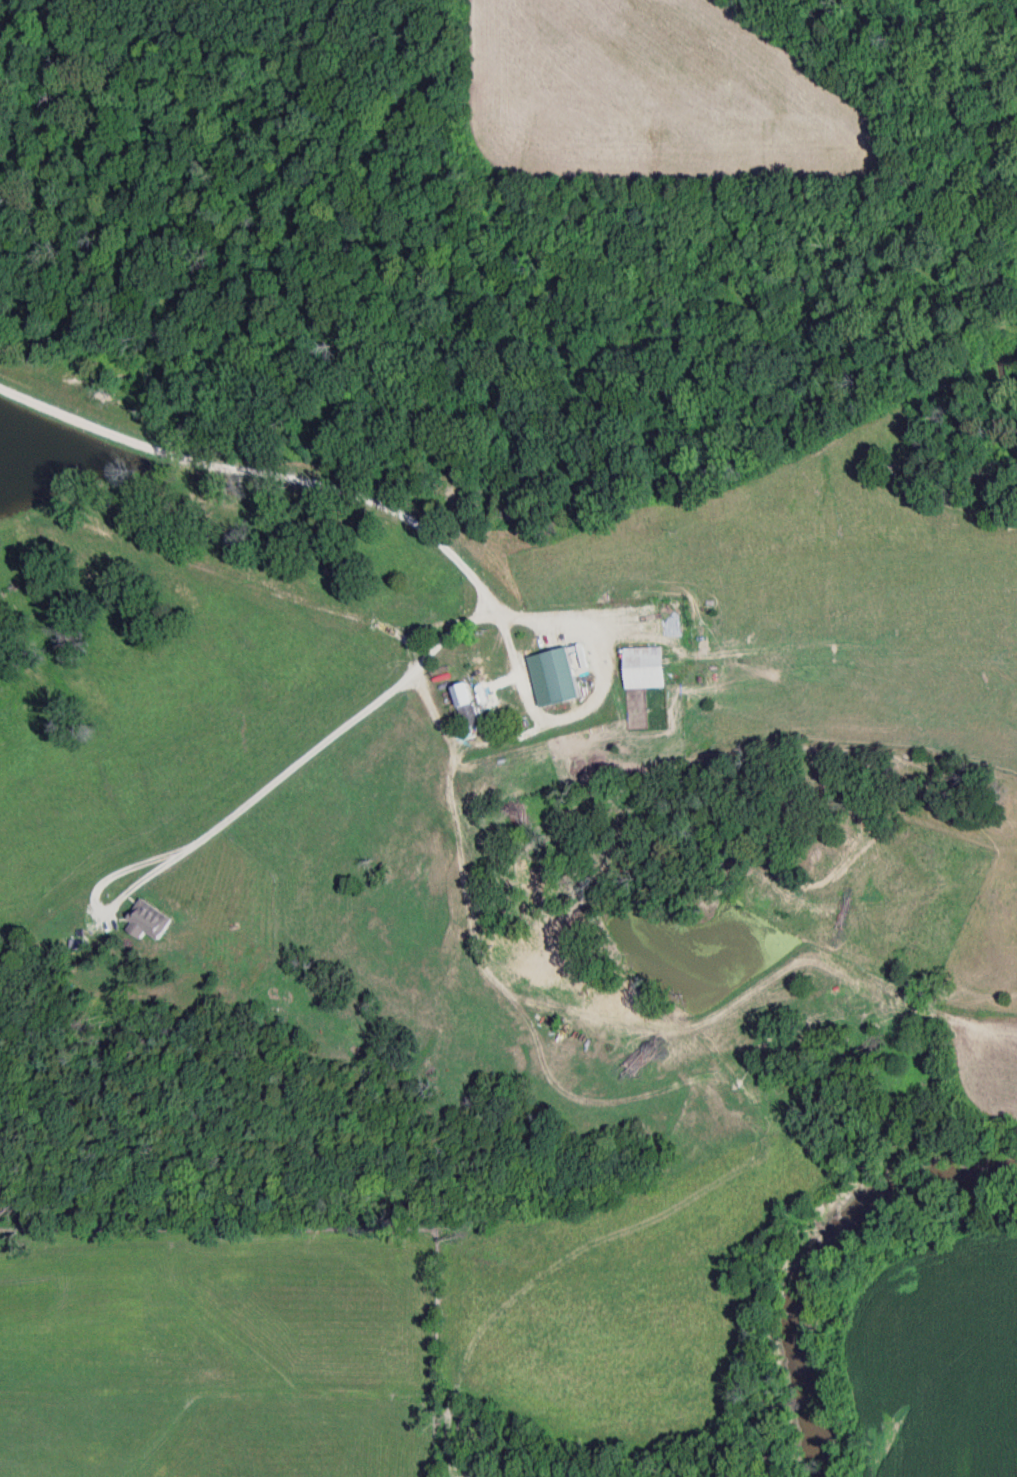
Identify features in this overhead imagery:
road: (399, 635)
building: (704, 645)
building: (643, 670)
building: (559, 678)
building: (522, 701)
building: (466, 706)
river: (807, 1249)

